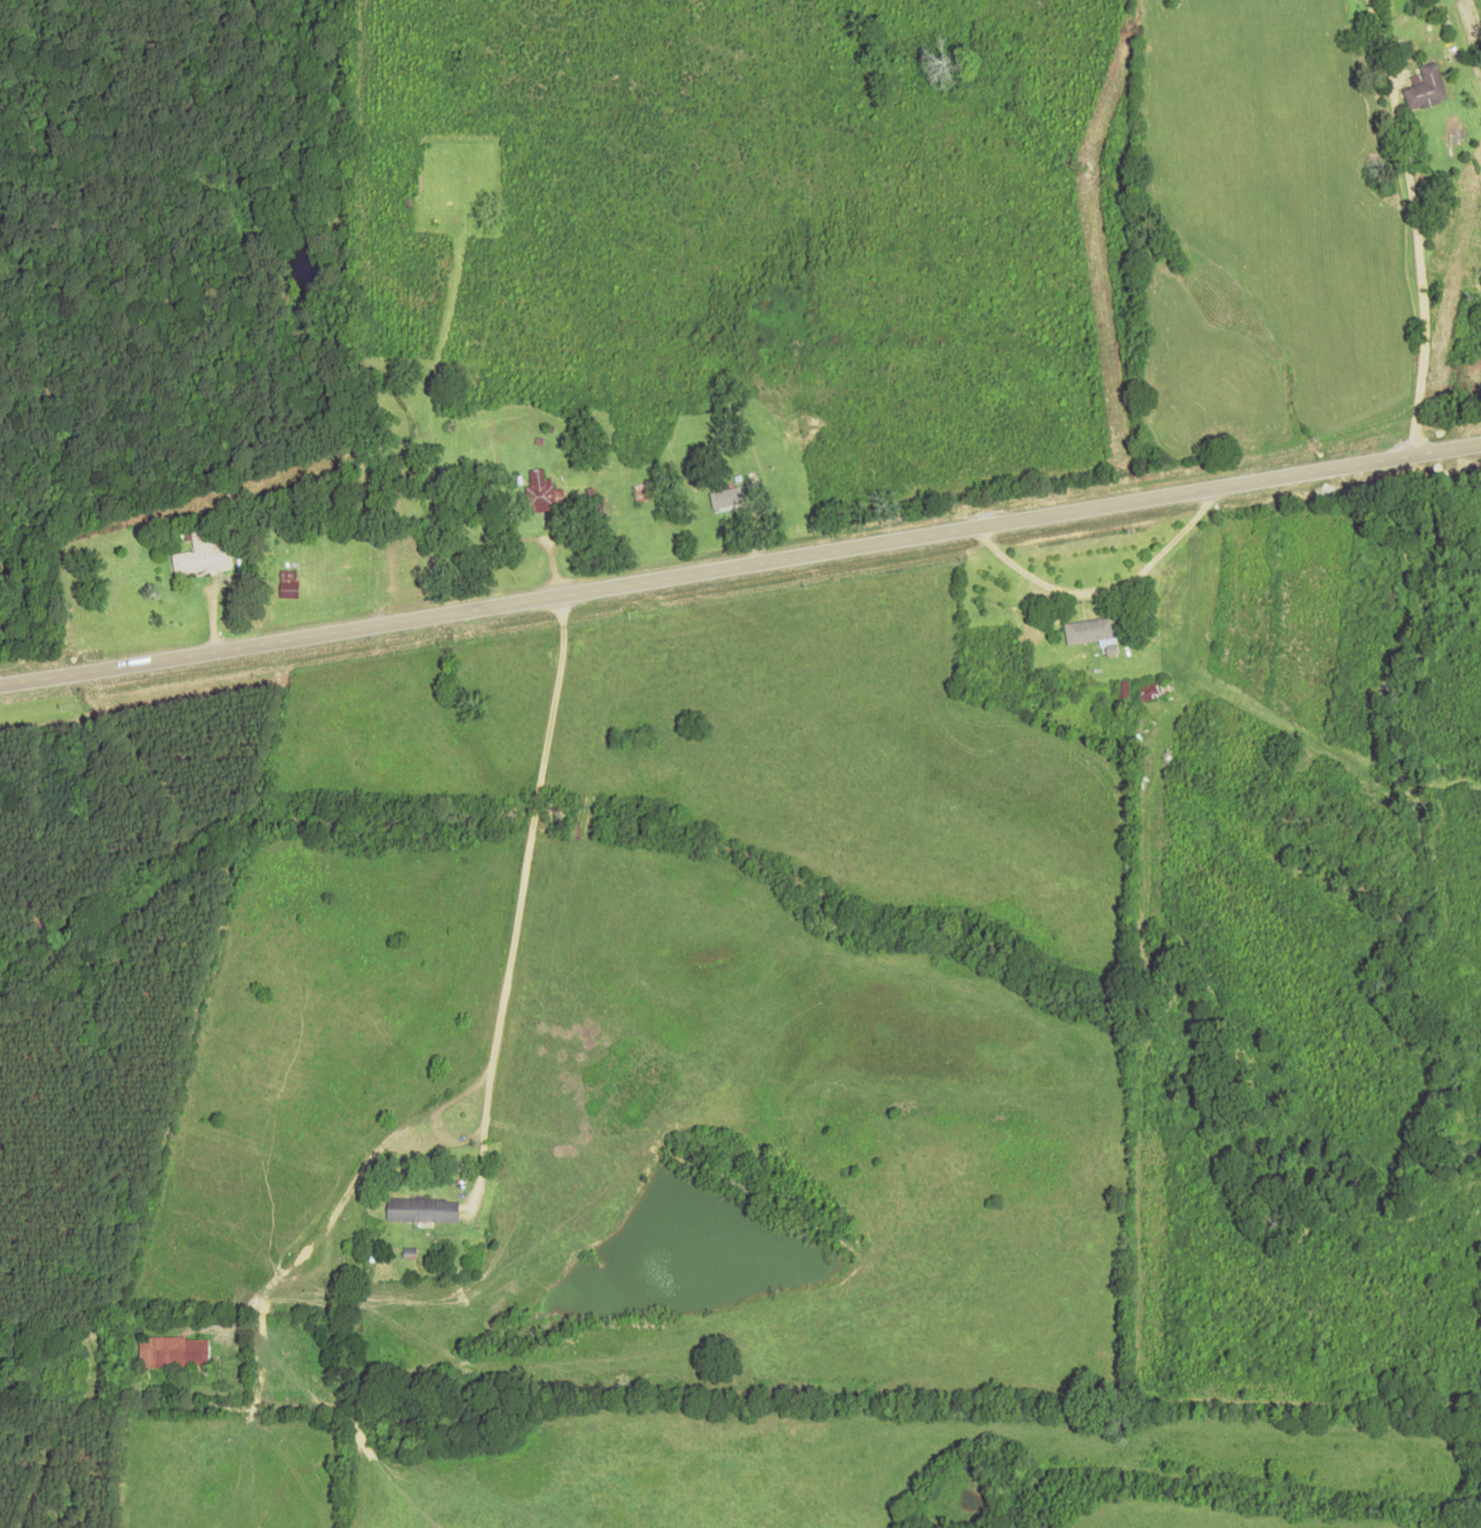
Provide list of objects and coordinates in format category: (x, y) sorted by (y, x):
building: (1426, 86)
road: (1410, 224)
building: (543, 491)
building: (646, 491)
building: (725, 499)
building: (199, 554)
road: (740, 562)
building: (288, 585)
building: (1122, 689)
building: (1150, 692)
building: (421, 1210)
building: (175, 1351)

